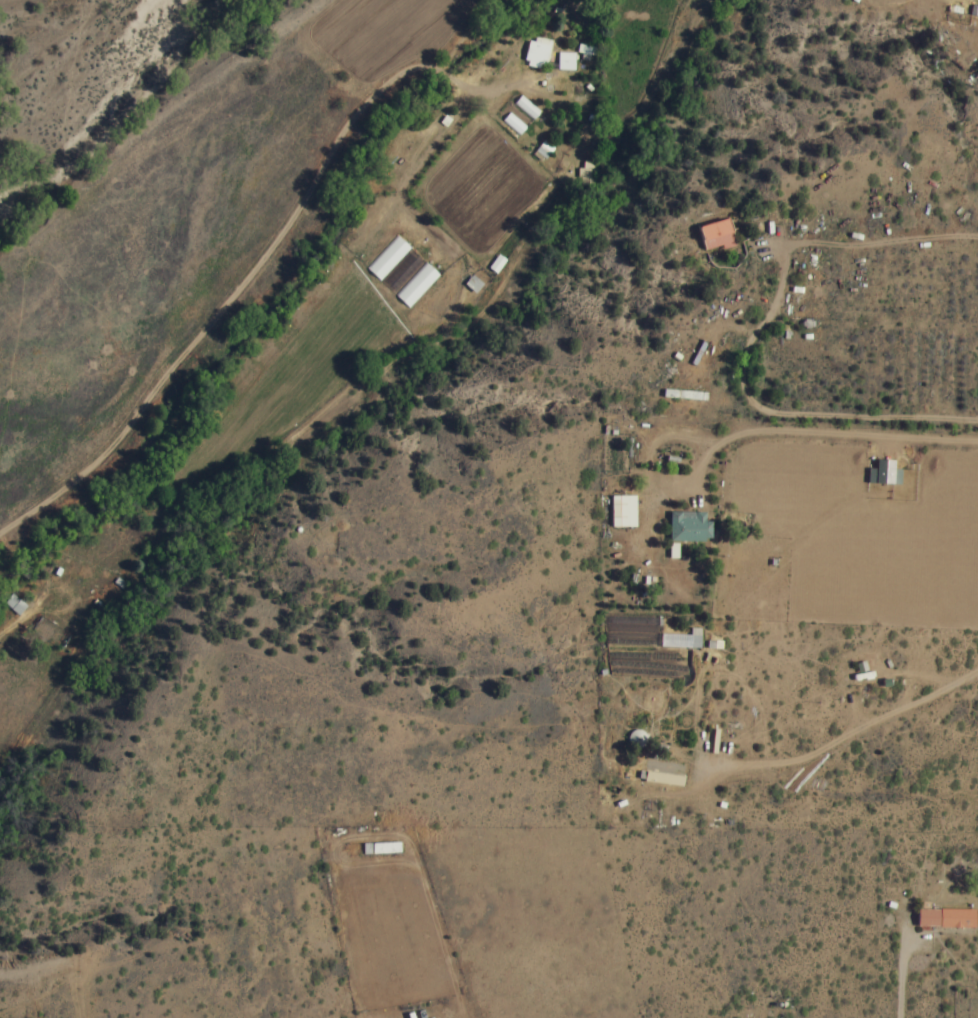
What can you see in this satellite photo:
building: (535, 54)
building: (564, 63)
building: (518, 117)
building: (708, 236)
building: (620, 514)
building: (688, 526)
building: (13, 604)
building: (663, 778)
building: (380, 848)
building: (945, 917)

